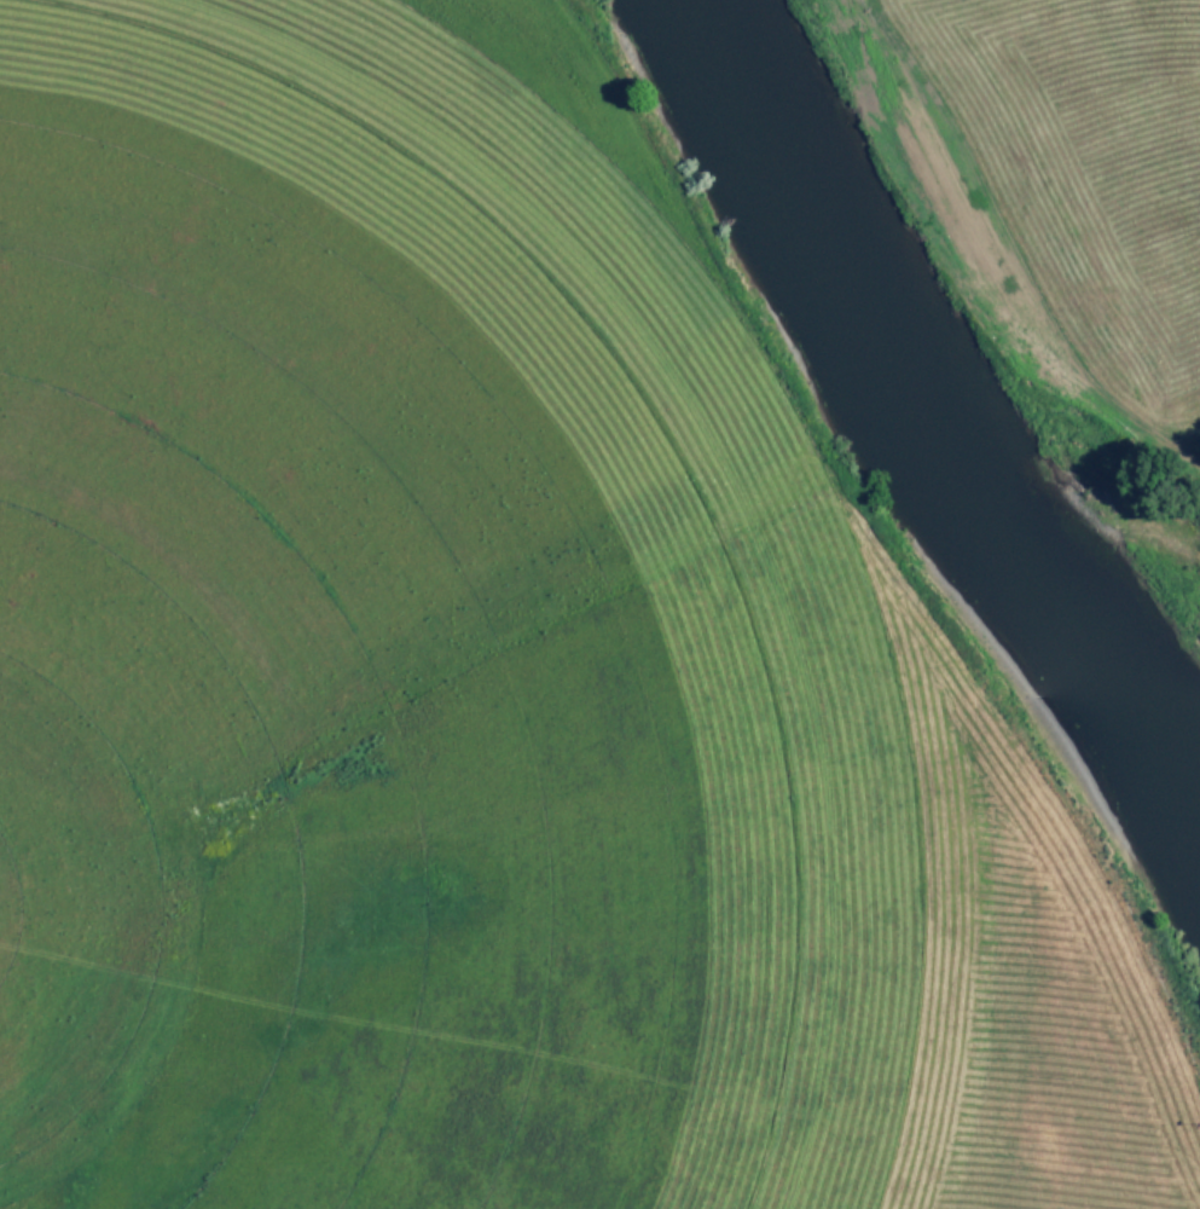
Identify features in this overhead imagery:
river: (943, 453)
road: (1146, 504)

